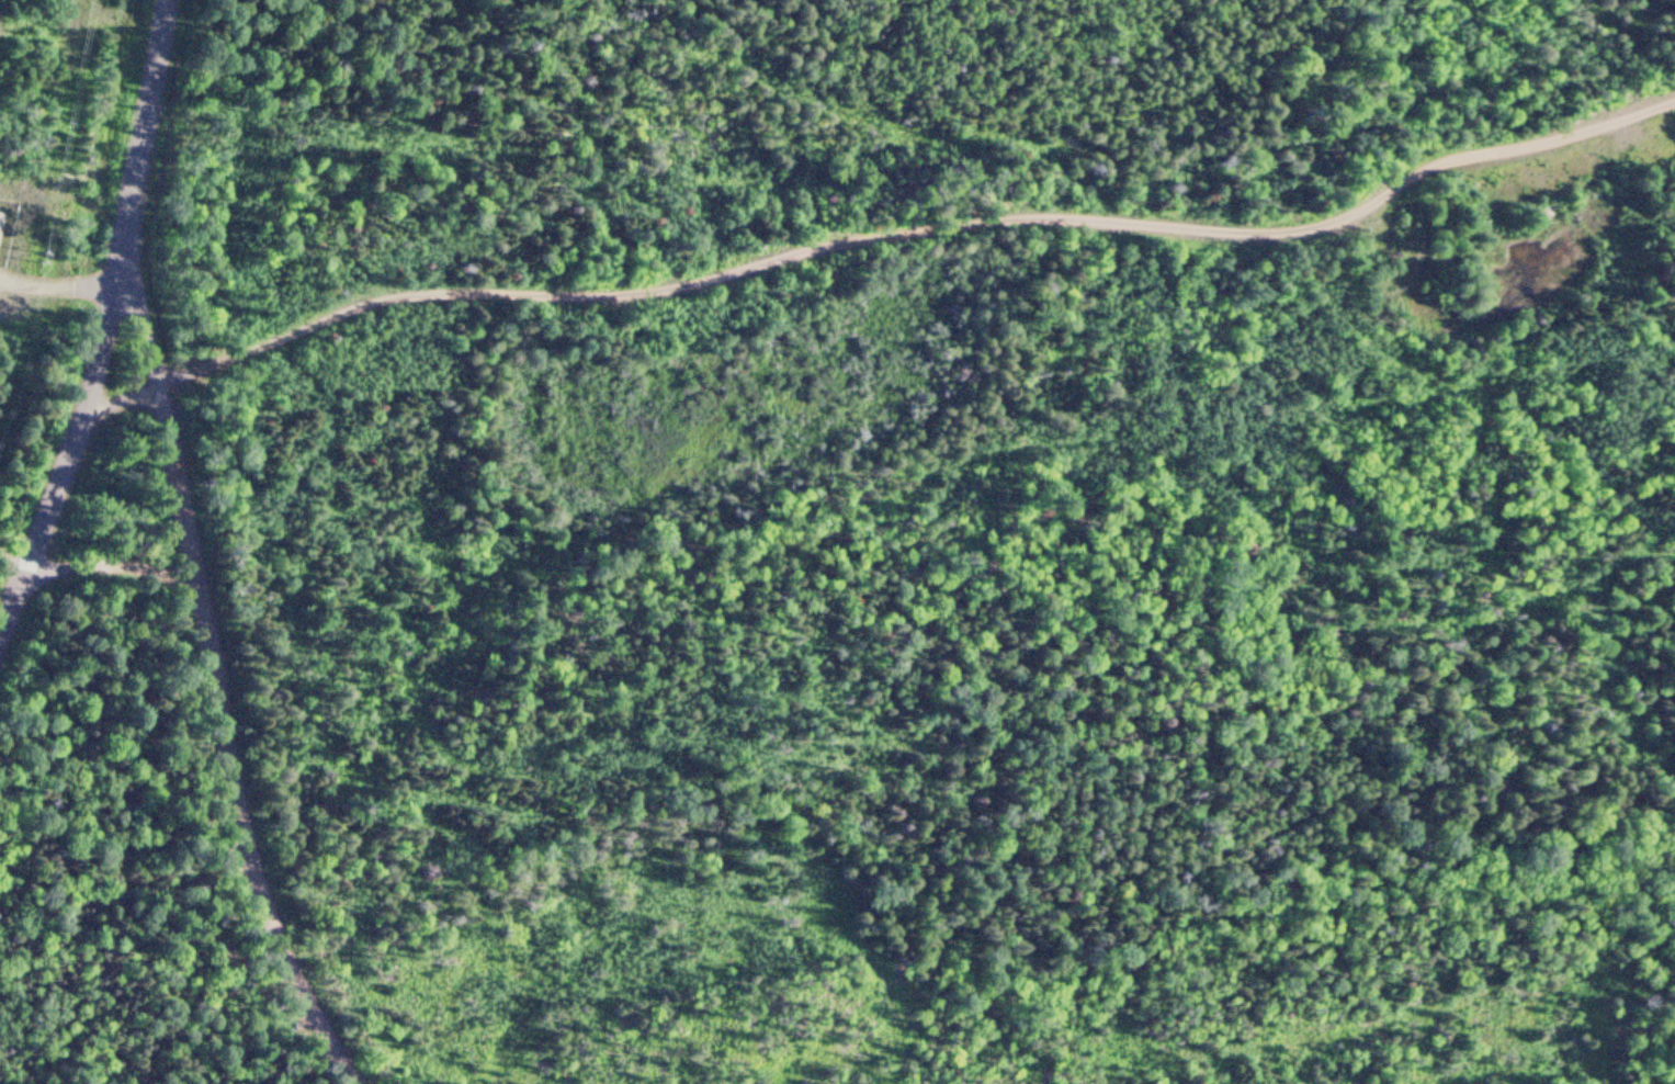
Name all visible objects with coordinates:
building: (2, 223)
road: (880, 237)
road: (60, 287)
road: (147, 304)
road: (111, 328)
road: (15, 565)
road: (111, 571)
road: (229, 742)

